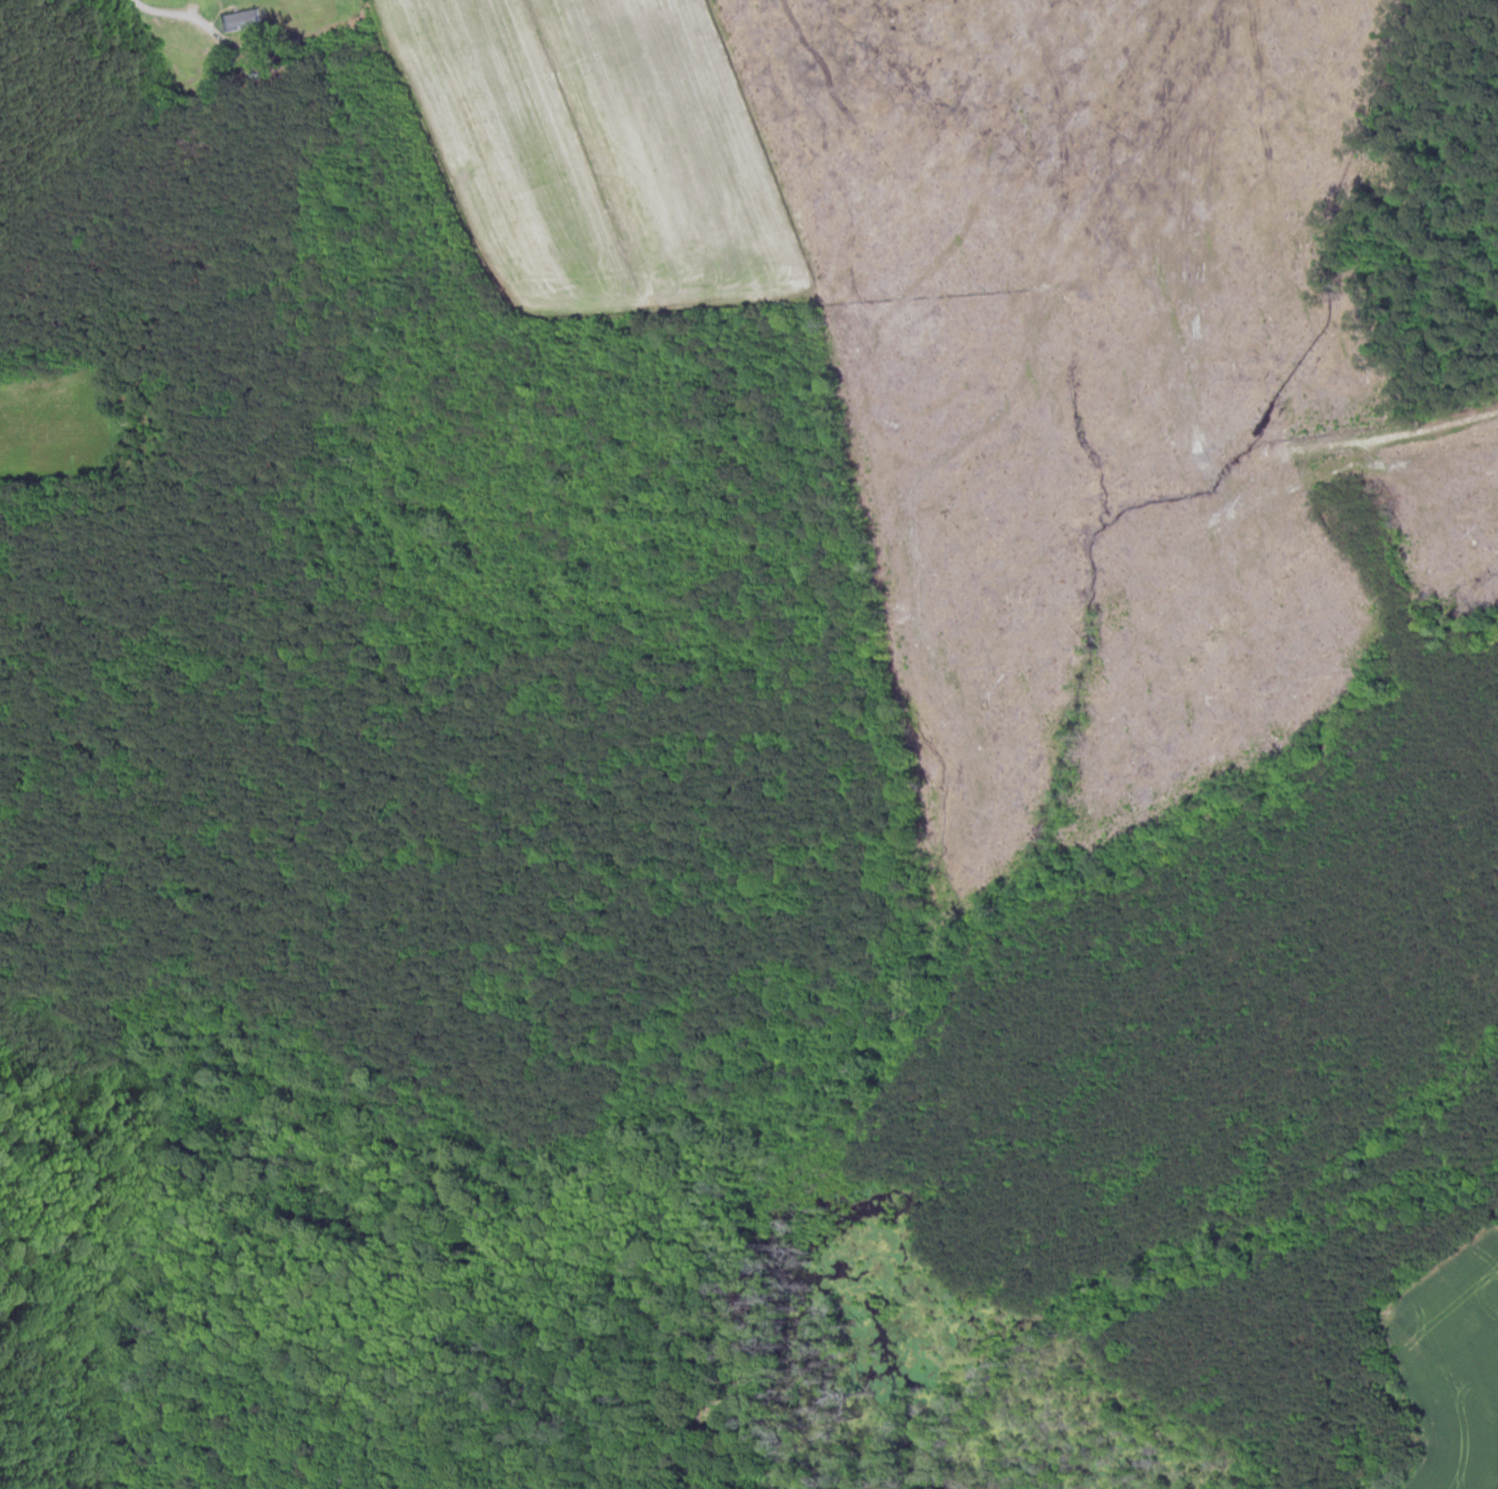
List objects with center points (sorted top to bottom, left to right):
road: (179, 12)
building: (237, 21)

